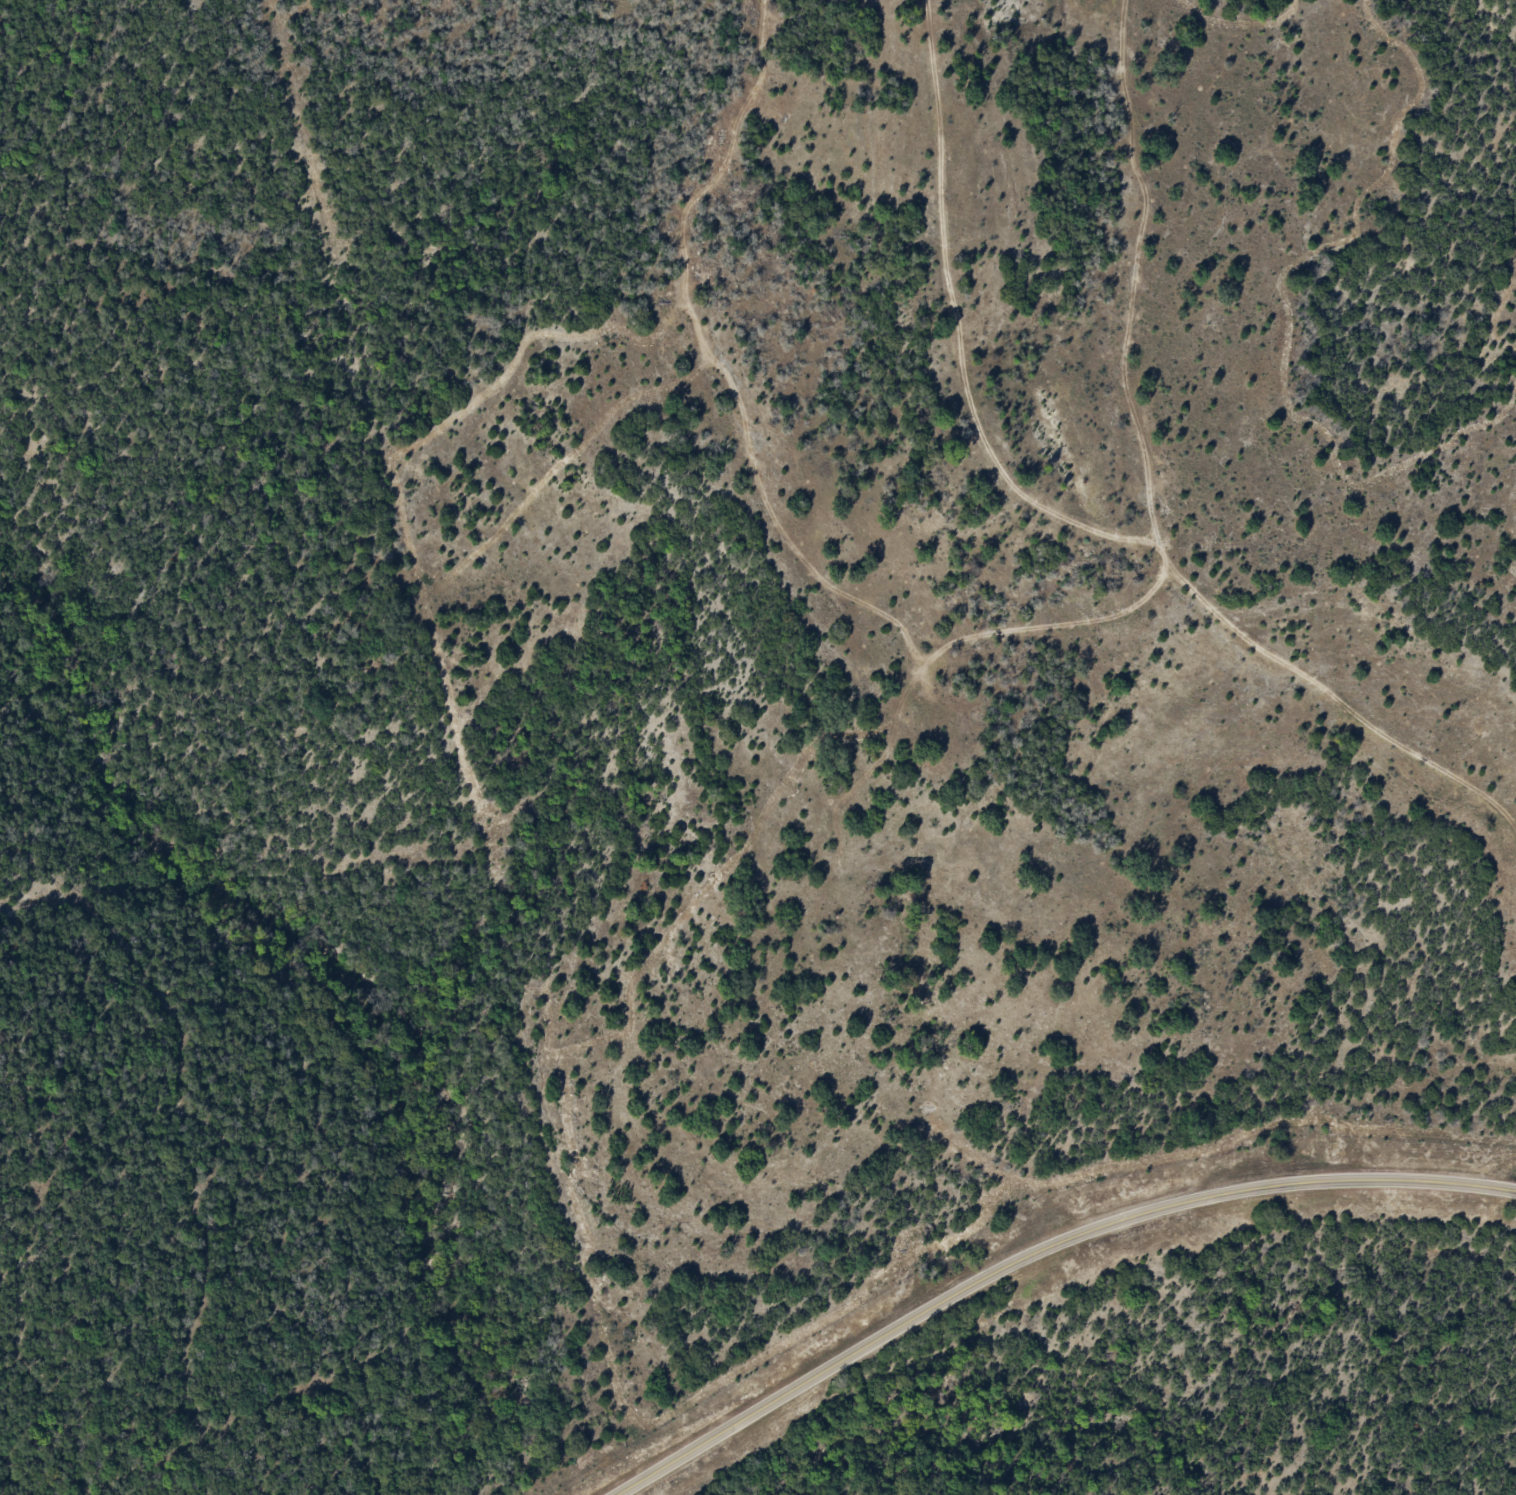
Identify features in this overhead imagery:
park: (758, 747)
road: (1039, 1251)

